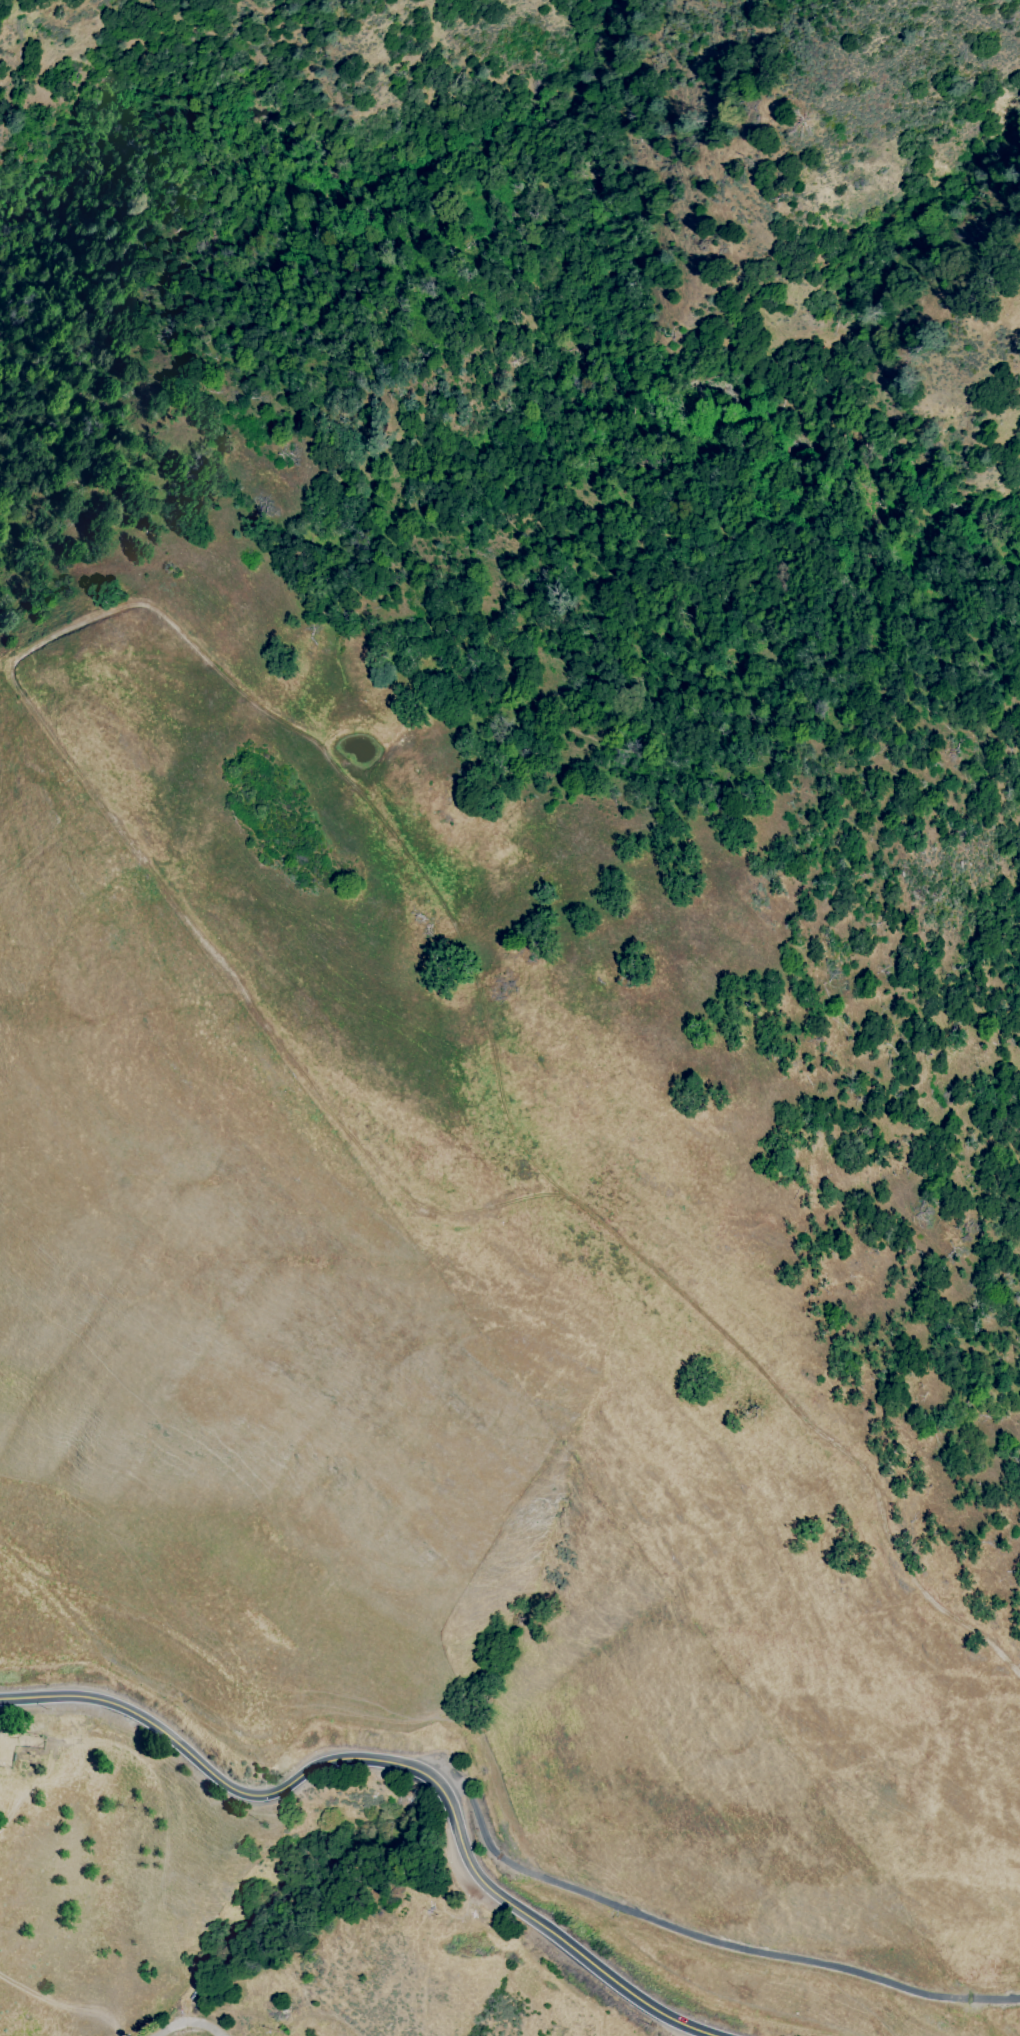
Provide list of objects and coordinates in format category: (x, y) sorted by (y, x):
road: (397, 1764)
road: (705, 1937)
road: (186, 2022)

